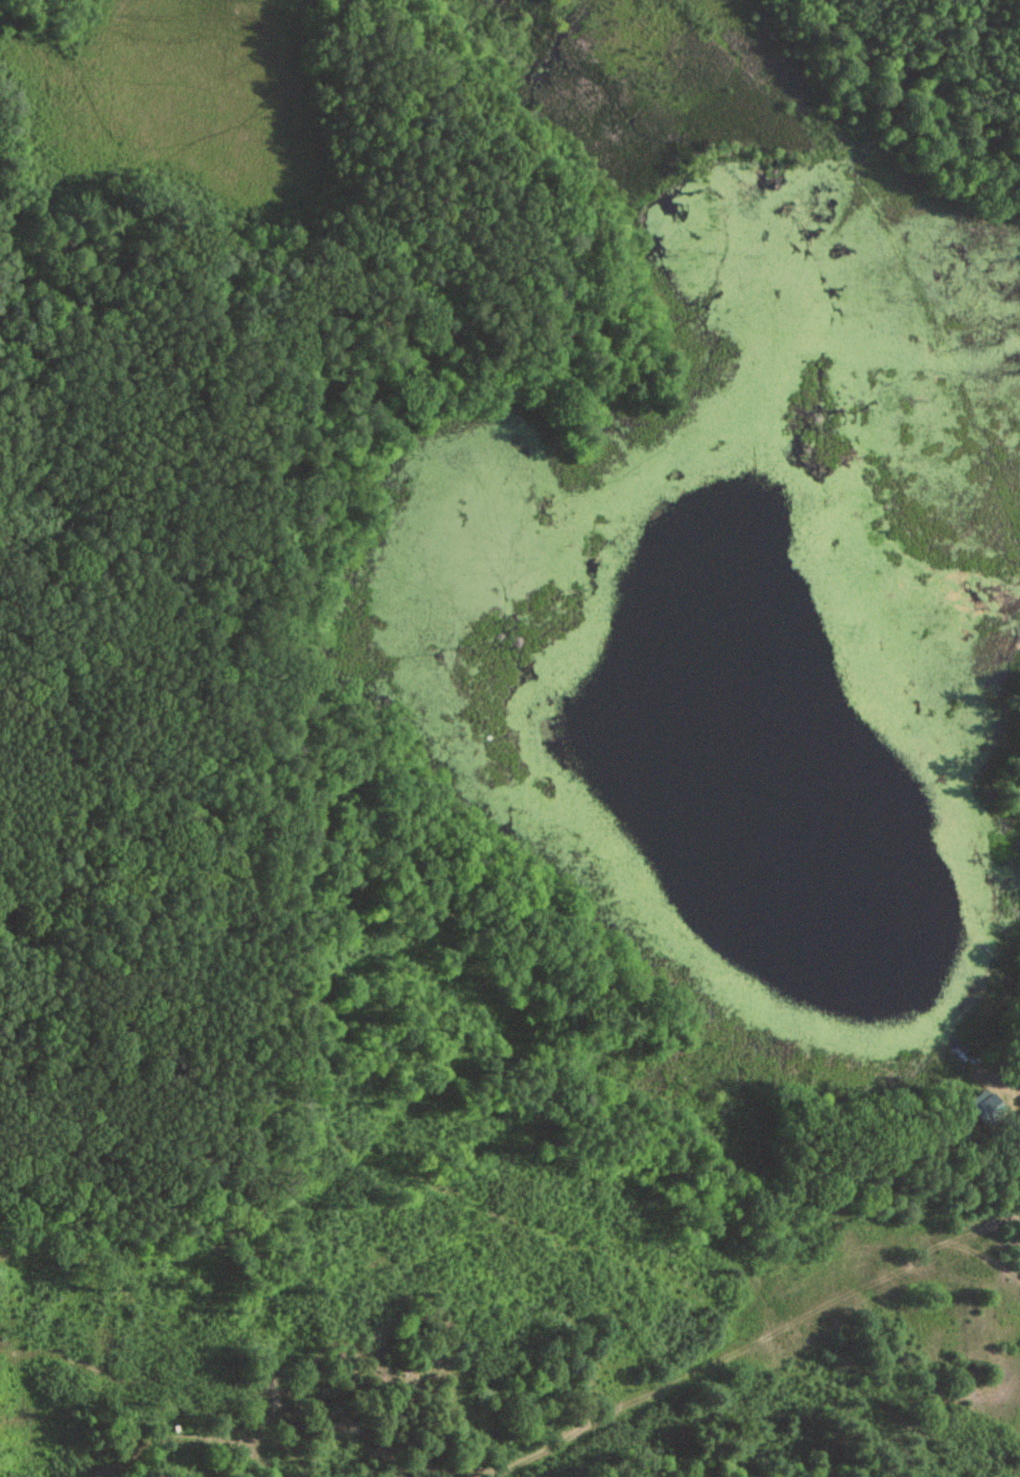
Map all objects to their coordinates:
river: (996, 869)
building: (983, 1109)

